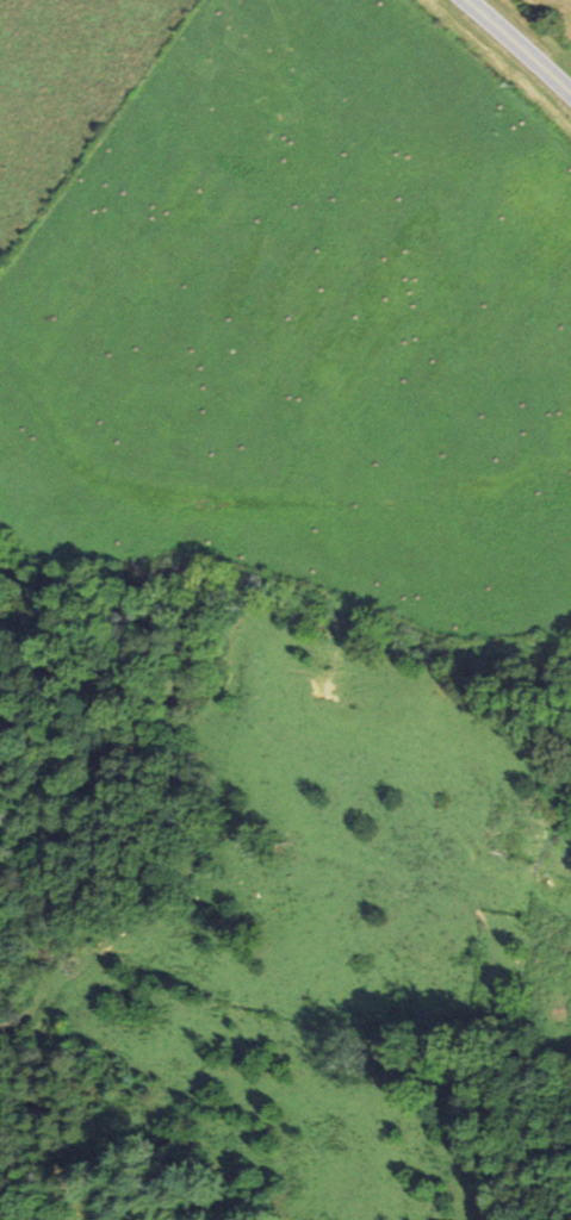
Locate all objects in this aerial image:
road: (516, 46)

